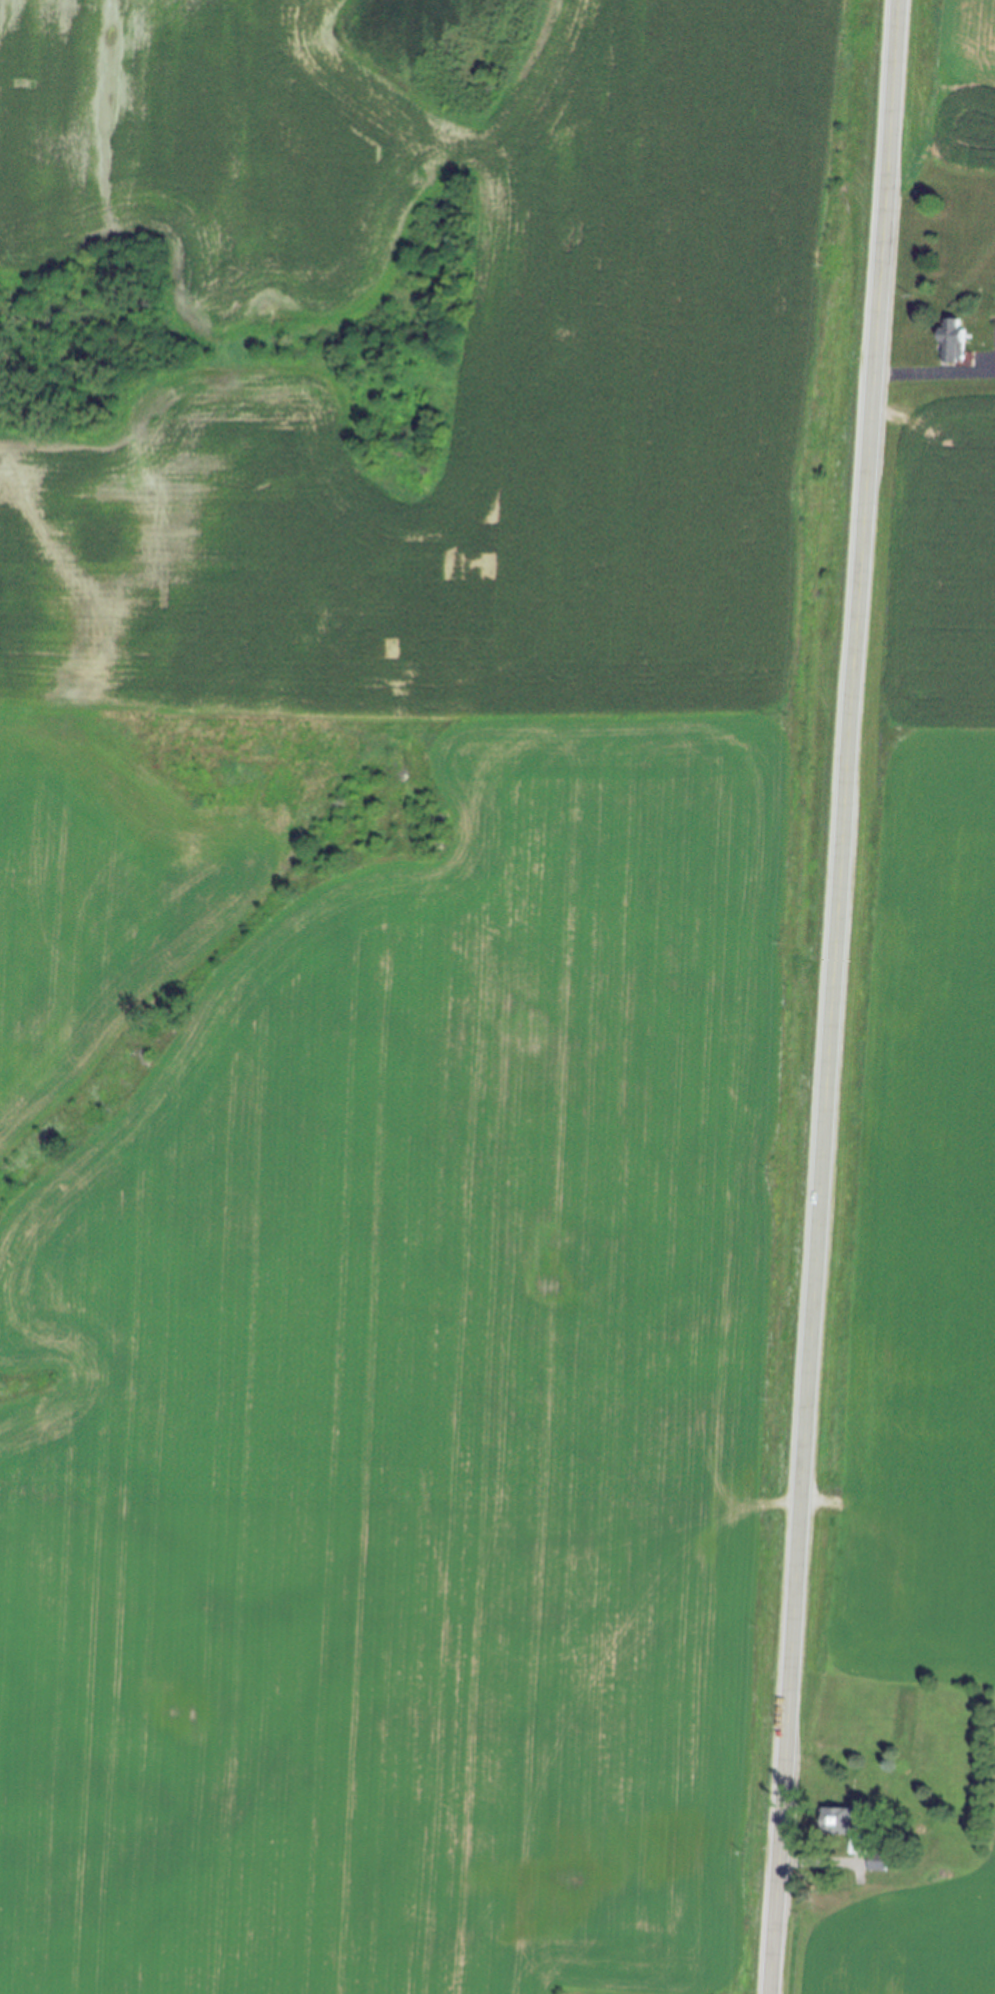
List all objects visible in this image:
building: (950, 341)
road: (934, 376)
road: (833, 996)
building: (928, 1742)
building: (859, 1845)
building: (957, 1888)
building: (896, 1959)

